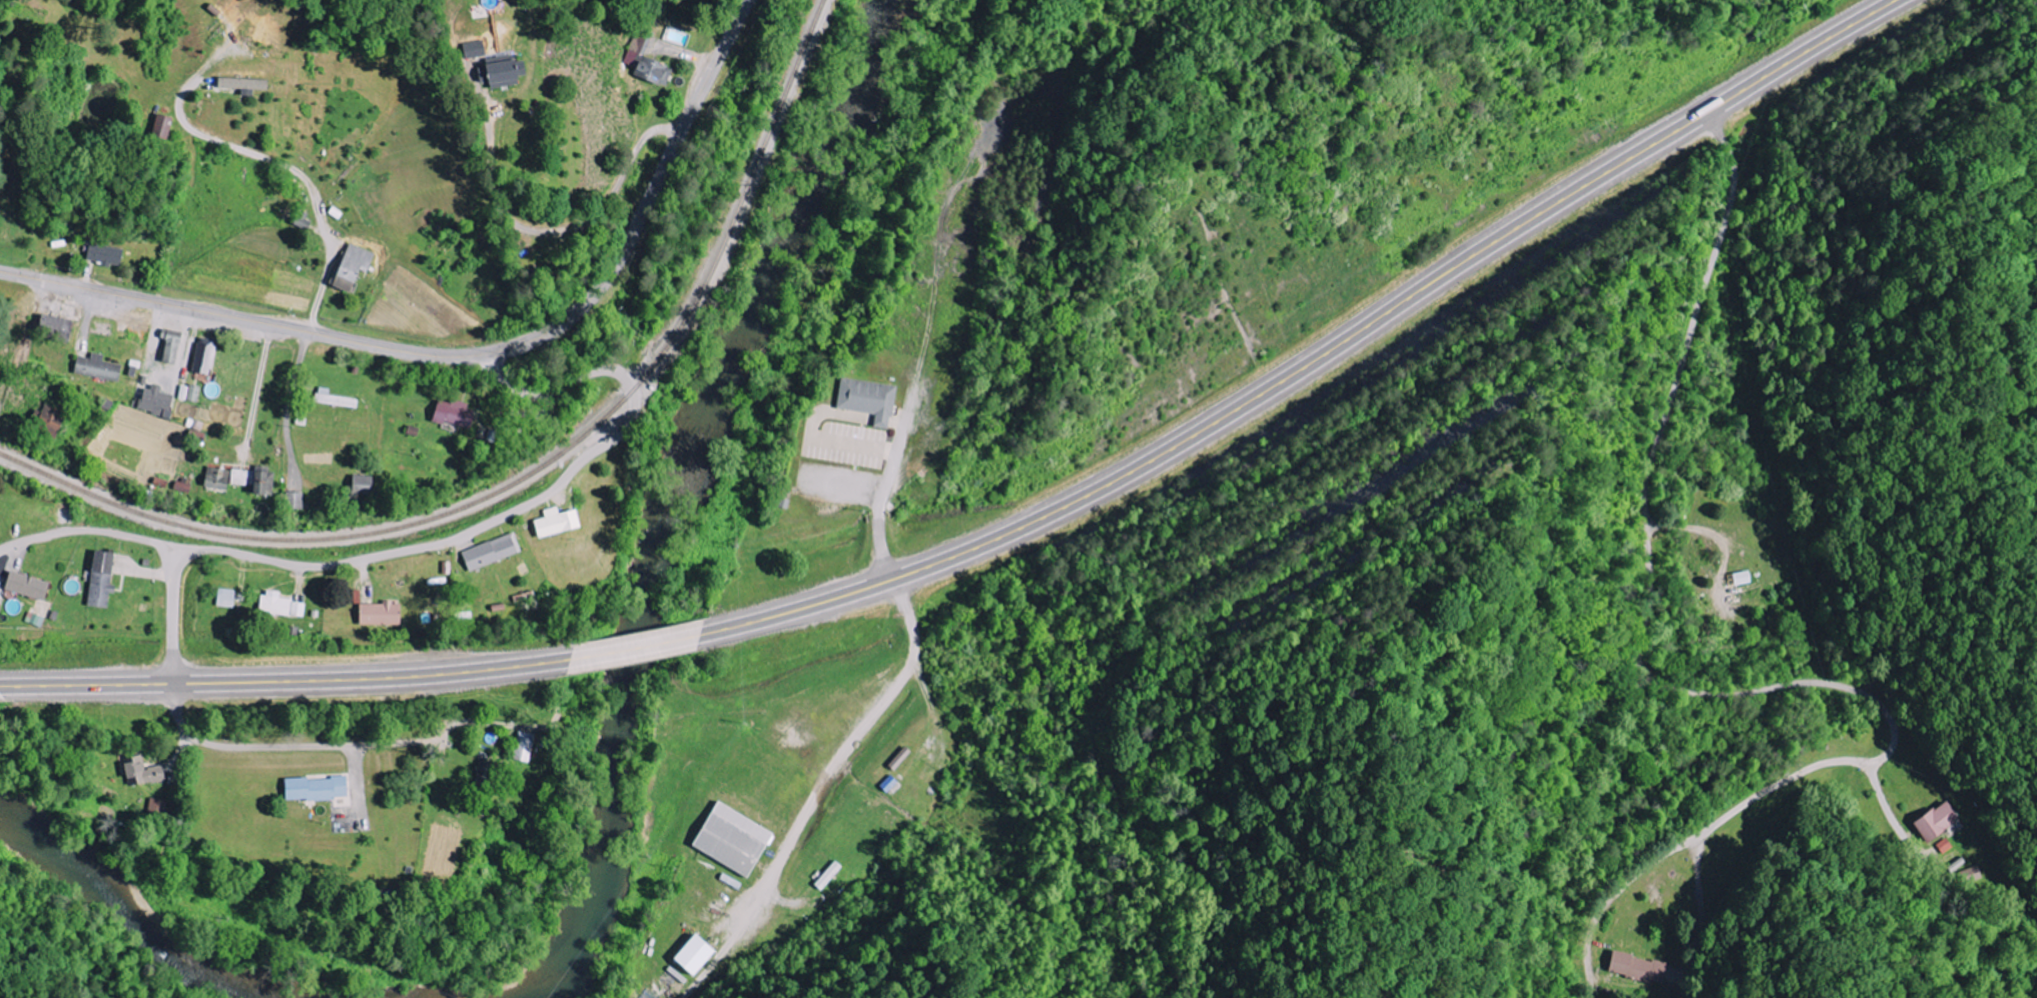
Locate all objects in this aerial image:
road: (559, 34)
building: (473, 49)
building: (649, 64)
building: (501, 73)
building: (247, 85)
building: (165, 126)
building: (106, 255)
building: (354, 268)
building: (59, 327)
building: (174, 345)
road: (469, 354)
building: (206, 358)
road: (1323, 363)
building: (101, 367)
building: (331, 399)
building: (871, 399)
building: (159, 401)
building: (458, 414)
building: (52, 419)
railway: (535, 470)
building: (243, 480)
building: (366, 485)
building: (297, 501)
river: (669, 511)
building: (560, 522)
road: (93, 532)
road: (467, 533)
building: (493, 552)
building: (1738, 578)
building: (104, 579)
building: (30, 586)
building: (228, 598)
building: (283, 605)
building: (384, 614)
building: (36, 619)
road: (636, 648)
road: (285, 680)
road: (1688, 688)
road: (283, 746)
building: (525, 747)
building: (145, 773)
building: (486, 774)
building: (159, 808)
building: (1933, 821)
building: (738, 840)
building: (1971, 875)
river: (139, 905)
building: (701, 956)
building: (1631, 967)

